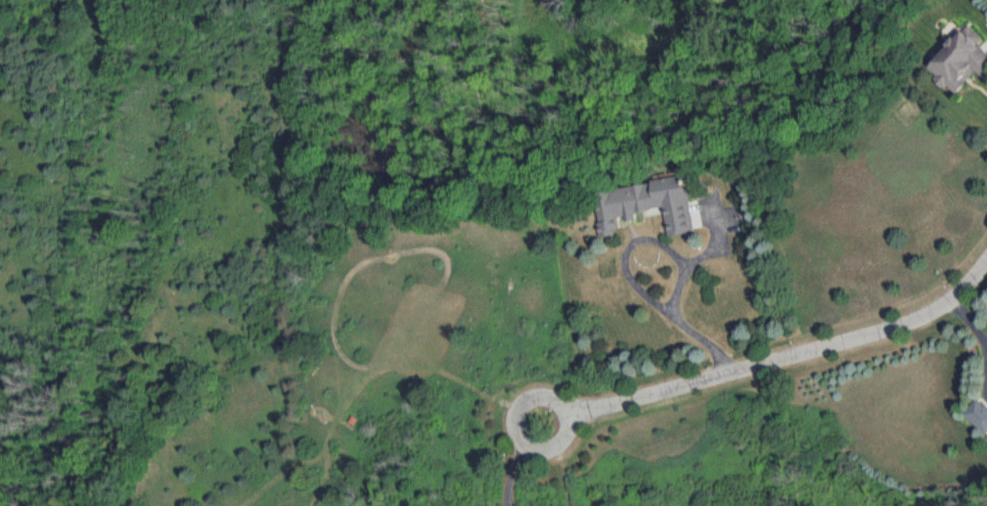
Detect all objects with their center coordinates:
building: (963, 60)
building: (650, 206)
park: (148, 254)
road: (676, 303)
road: (792, 356)
building: (978, 414)
road: (516, 430)
road: (514, 475)

